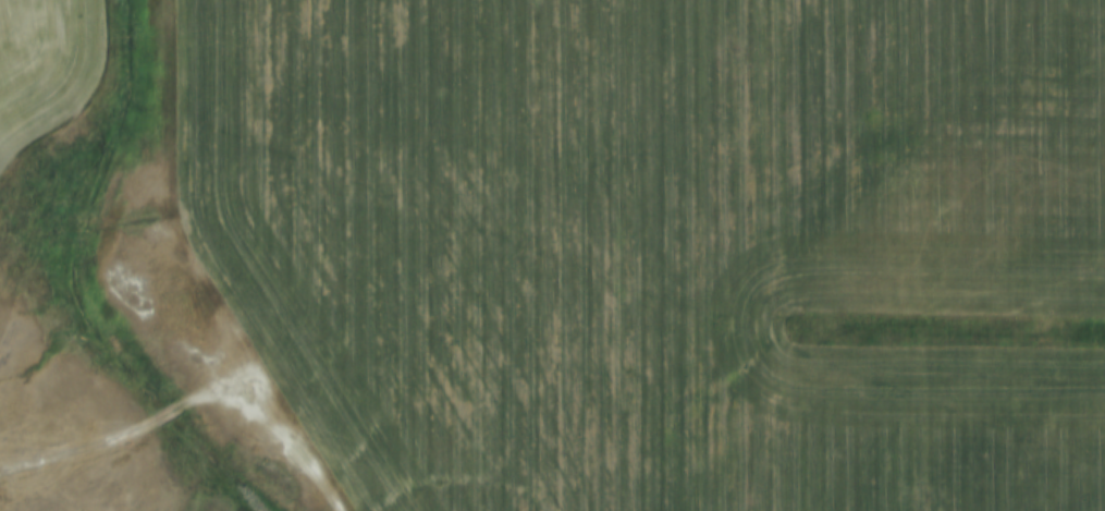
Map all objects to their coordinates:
road: (182, 273)

